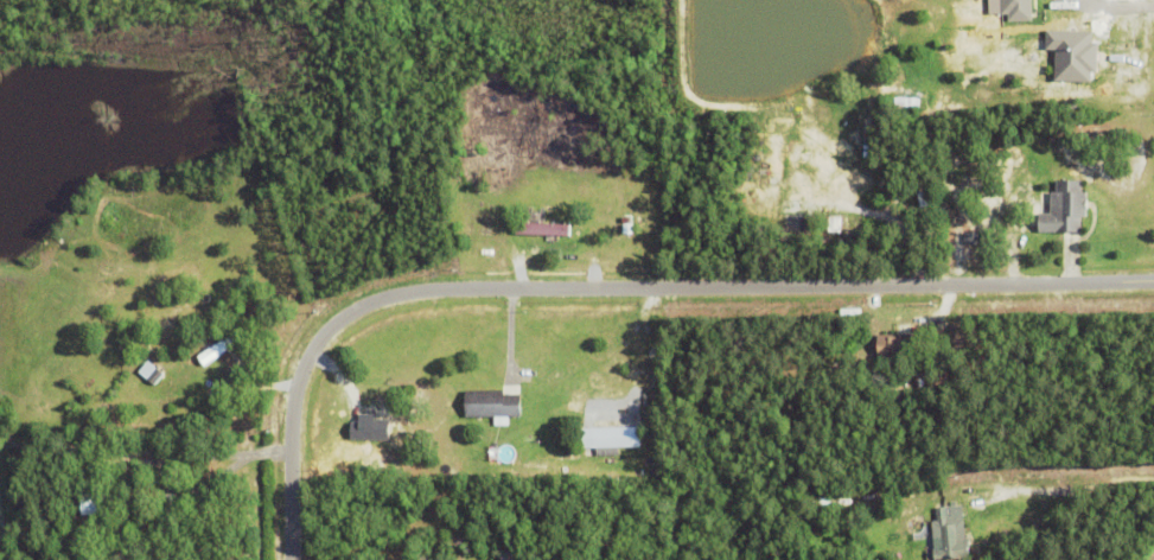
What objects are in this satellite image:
building: (1007, 8)
road: (1103, 13)
building: (1064, 206)
building: (542, 228)
building: (973, 238)
road: (613, 298)
building: (222, 344)
building: (897, 350)
building: (149, 371)
building: (893, 397)
building: (492, 405)
building: (606, 437)
building: (547, 472)
road: (1066, 489)
building: (95, 504)
building: (822, 505)
building: (171, 511)
building: (949, 539)
building: (509, 555)

